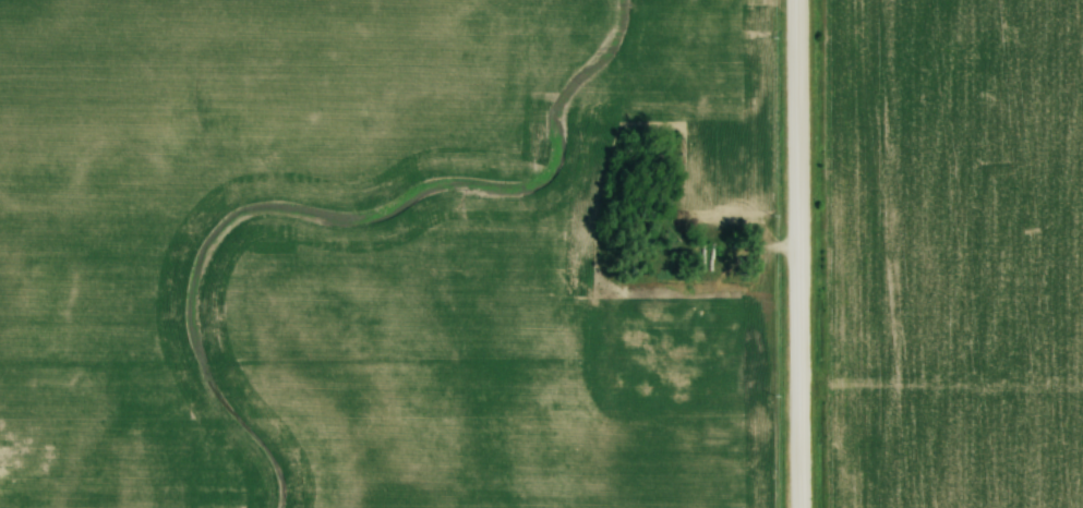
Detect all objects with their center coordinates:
road: (796, 254)

